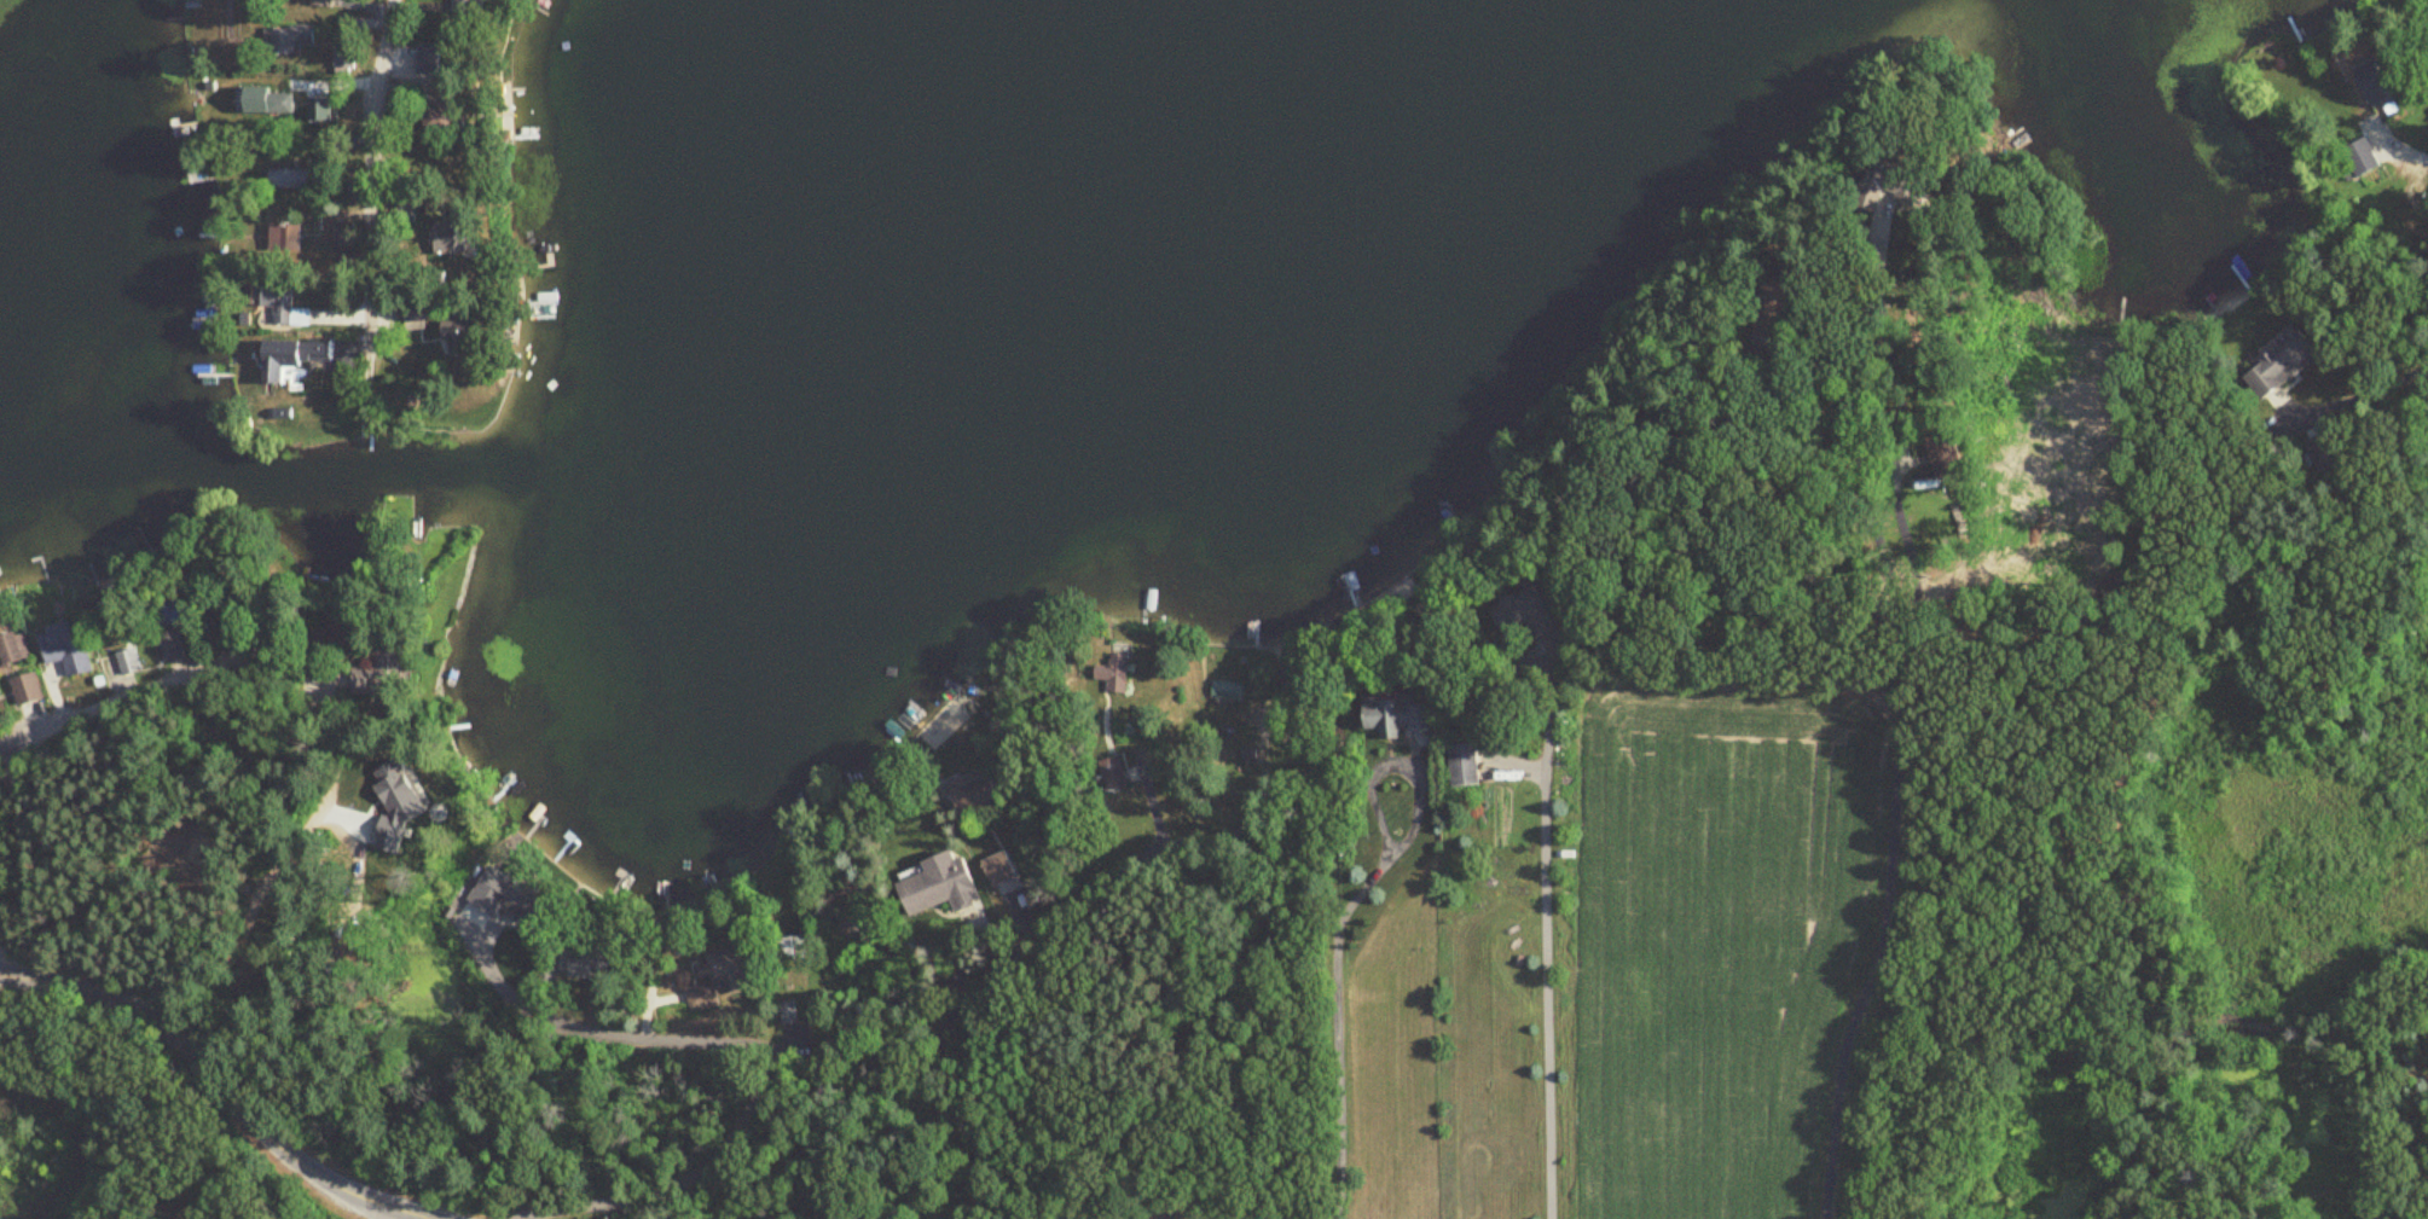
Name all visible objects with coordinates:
building: (320, 2)
building: (469, 8)
building: (286, 39)
building: (2427, 42)
building: (428, 59)
building: (2366, 83)
building: (277, 101)
building: (445, 114)
road: (2398, 149)
building: (2354, 158)
building: (286, 178)
road: (372, 179)
building: (344, 237)
building: (456, 237)
building: (283, 238)
building: (284, 308)
building: (412, 319)
building: (459, 338)
building: (292, 358)
building: (2281, 364)
road: (2377, 391)
building: (2323, 452)
building: (1524, 611)
building: (173, 614)
building: (111, 616)
building: (347, 627)
building: (172, 645)
building: (66, 646)
building: (13, 648)
building: (129, 661)
building: (1116, 674)
building: (365, 681)
building: (27, 689)
road: (1483, 714)
building: (1397, 715)
road: (308, 722)
road: (1899, 750)
road: (1400, 764)
building: (1464, 765)
building: (1114, 774)
building: (974, 794)
road: (987, 796)
building: (410, 800)
building: (999, 870)
building: (944, 887)
road: (1549, 945)
building: (789, 948)
road: (997, 965)
building: (715, 980)
road: (1338, 1029)
road: (766, 1058)
road: (216, 1084)
road: (383, 1213)

